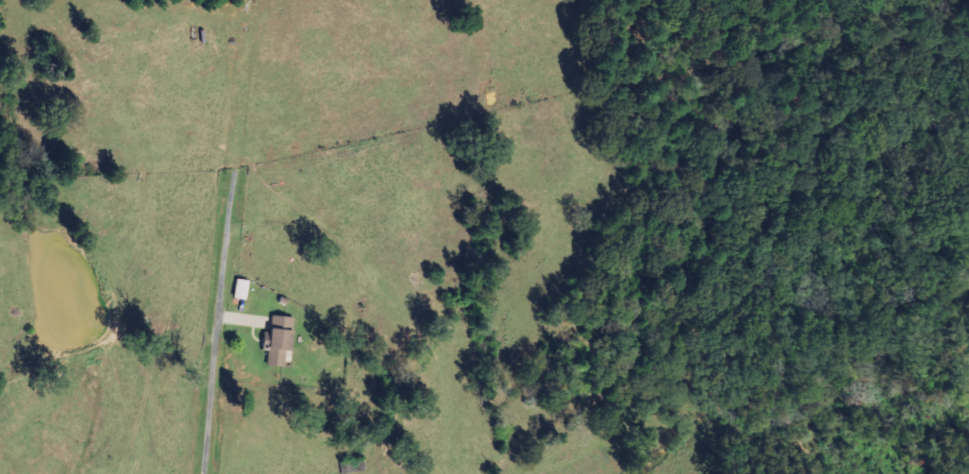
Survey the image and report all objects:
building: (239, 288)
building: (275, 340)

